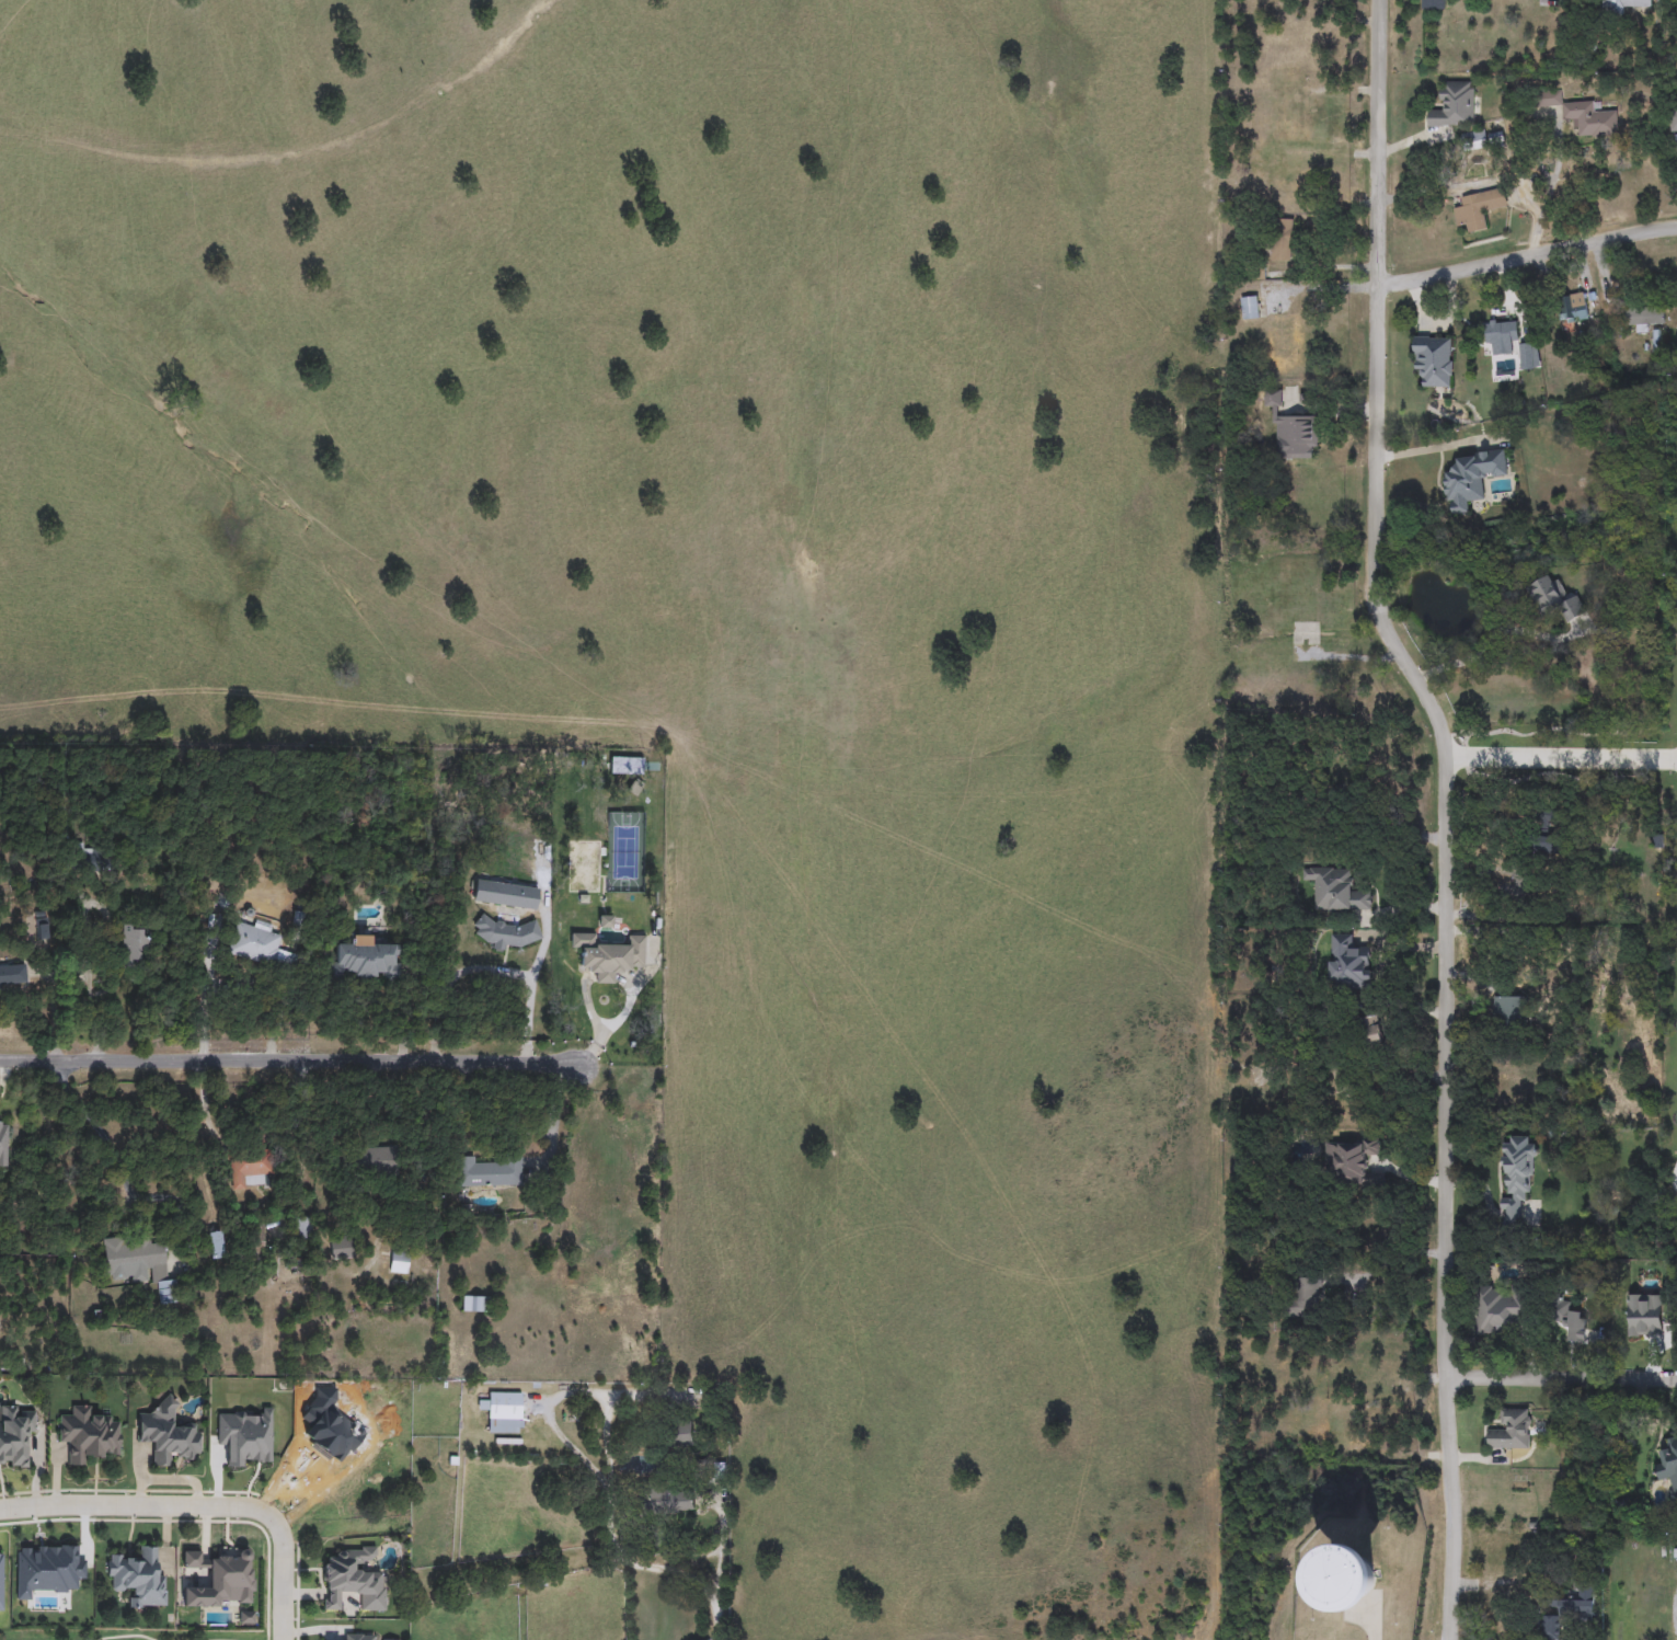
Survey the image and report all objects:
building: (1434, 5)
building: (1629, 5)
building: (1452, 105)
building: (1584, 117)
building: (1673, 121)
building: (1496, 137)
road: (1381, 142)
building: (1473, 142)
building: (1479, 209)
building: (1282, 240)
road: (1528, 260)
building: (1576, 307)
building: (1250, 308)
building: (1644, 317)
building: (1283, 331)
building: (1502, 333)
building: (1526, 357)
building: (1434, 360)
building: (1291, 431)
building: (1472, 478)
building: (1554, 600)
road: (1484, 644)
road: (1560, 756)
building: (1540, 841)
building: (1592, 848)
building: (1513, 884)
building: (1336, 892)
building: (507, 894)
building: (134, 945)
building: (259, 947)
building: (608, 955)
road: (1445, 955)
building: (366, 961)
building: (1349, 963)
road: (495, 971)
building: (13, 975)
building: (1508, 1012)
building: (1370, 1031)
road: (287, 1059)
building: (3, 1144)
road: (124, 1149)
building: (370, 1160)
building: (1353, 1165)
building: (250, 1170)
building: (487, 1172)
building: (1515, 1183)
building: (302, 1228)
building: (256, 1236)
building: (216, 1245)
building: (340, 1248)
building: (400, 1263)
building: (141, 1265)
road: (1388, 1266)
building: (1302, 1295)
building: (475, 1305)
building: (1645, 1317)
building: (1569, 1319)
road: (1562, 1379)
building: (506, 1412)
building: (1512, 1431)
building: (89, 1433)
building: (15, 1434)
building: (166, 1434)
building: (681, 1435)
building: (1668, 1464)
building: (671, 1500)
road: (139, 1507)
road: (610, 1536)
road: (721, 1567)
building: (138, 1579)
building: (354, 1579)
building: (1354, 1579)
road: (282, 1581)
water tower: (1358, 1605)
building: (1570, 1613)
building: (360, 1637)

